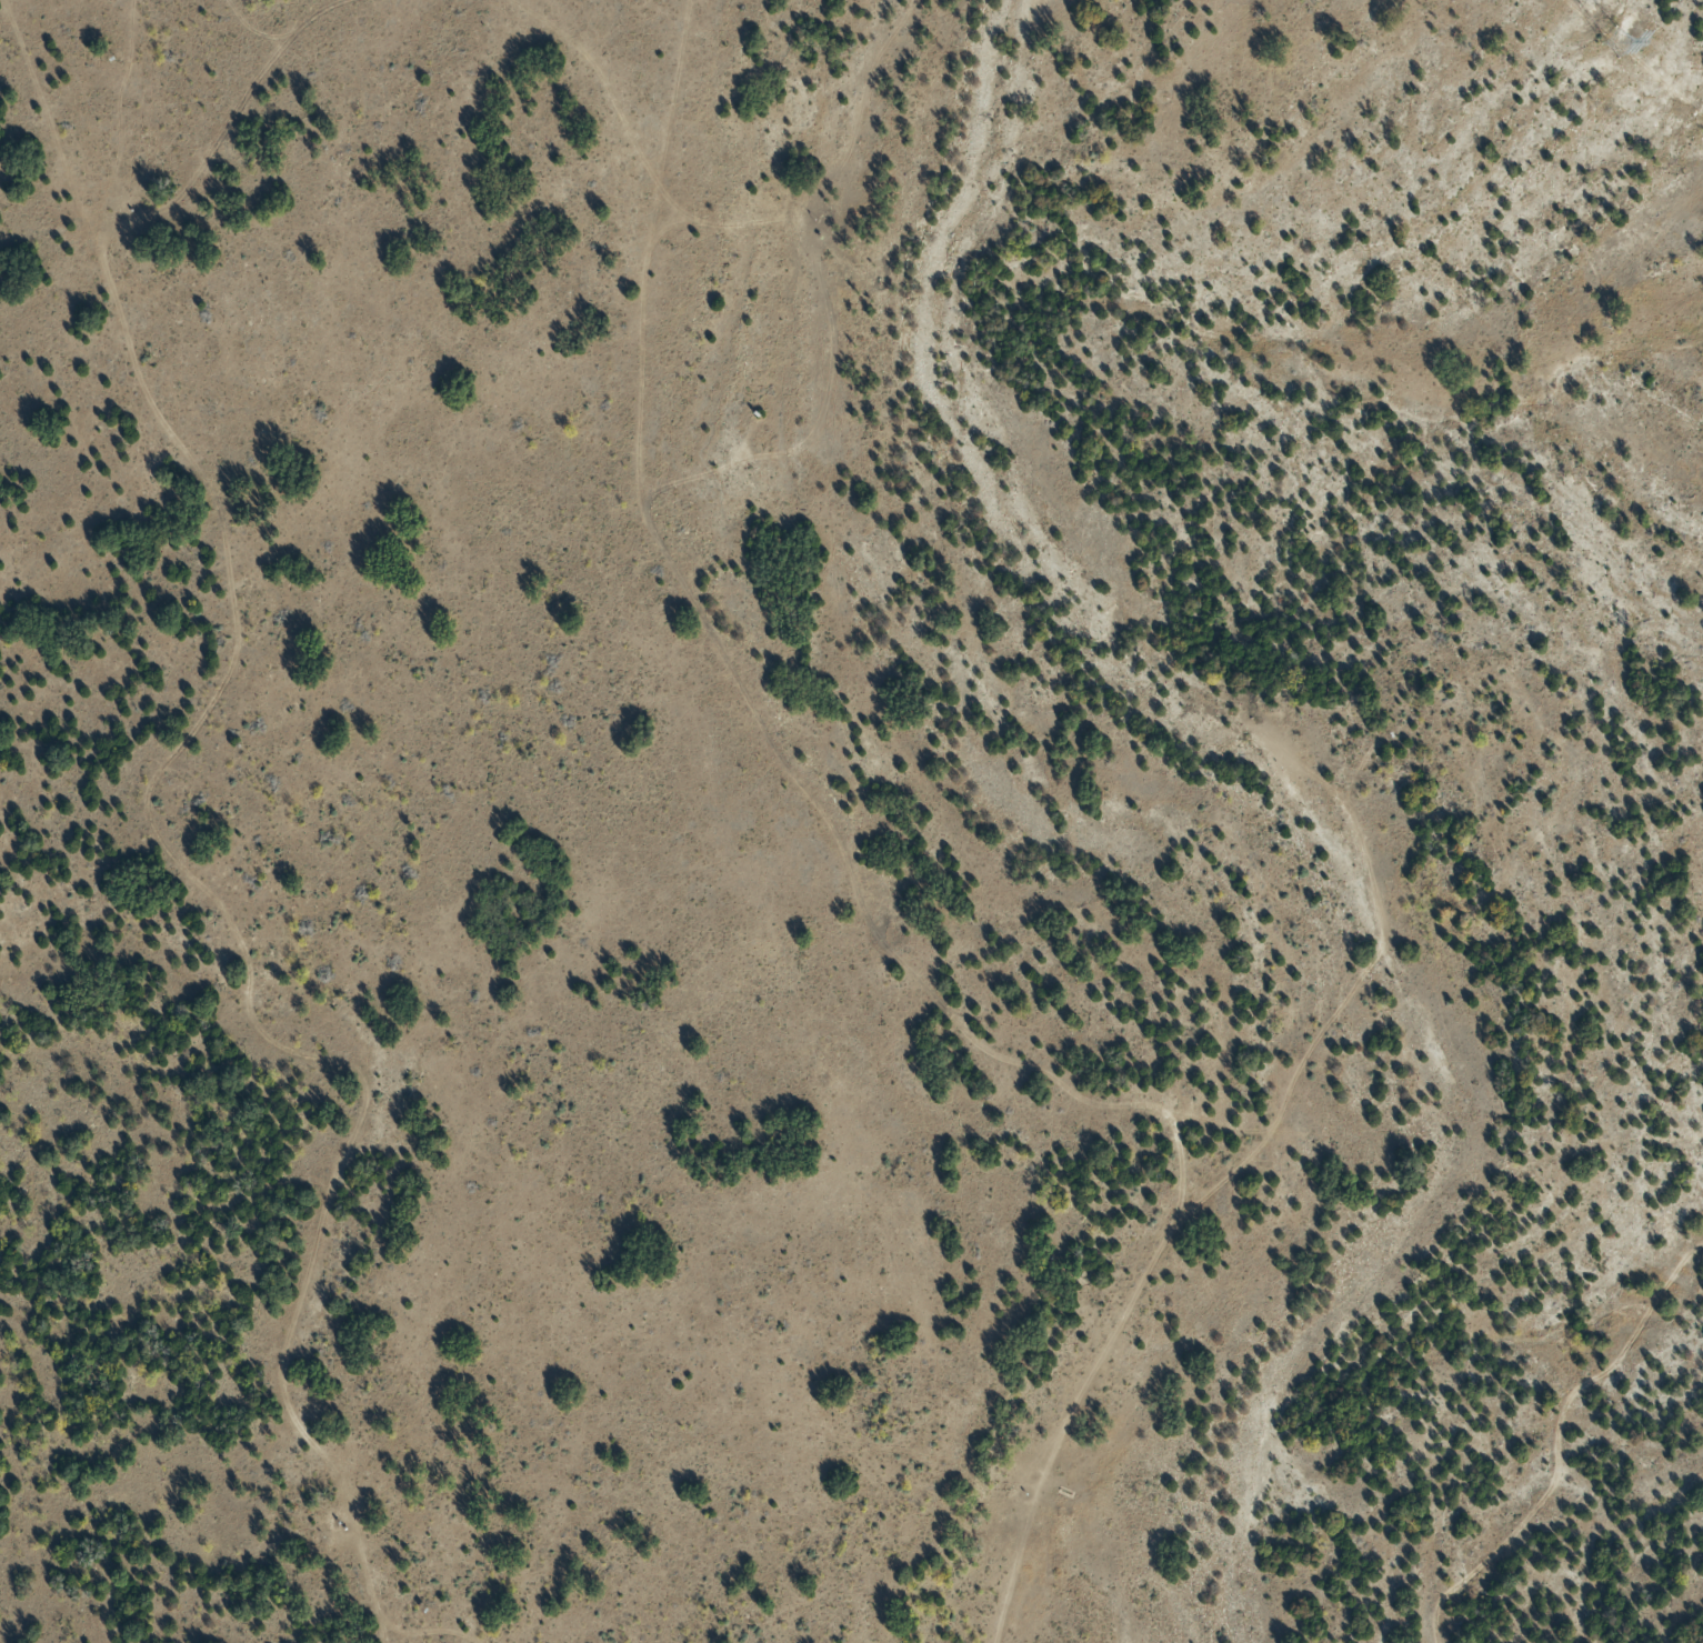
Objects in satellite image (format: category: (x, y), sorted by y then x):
power tower: (1615, 40)

